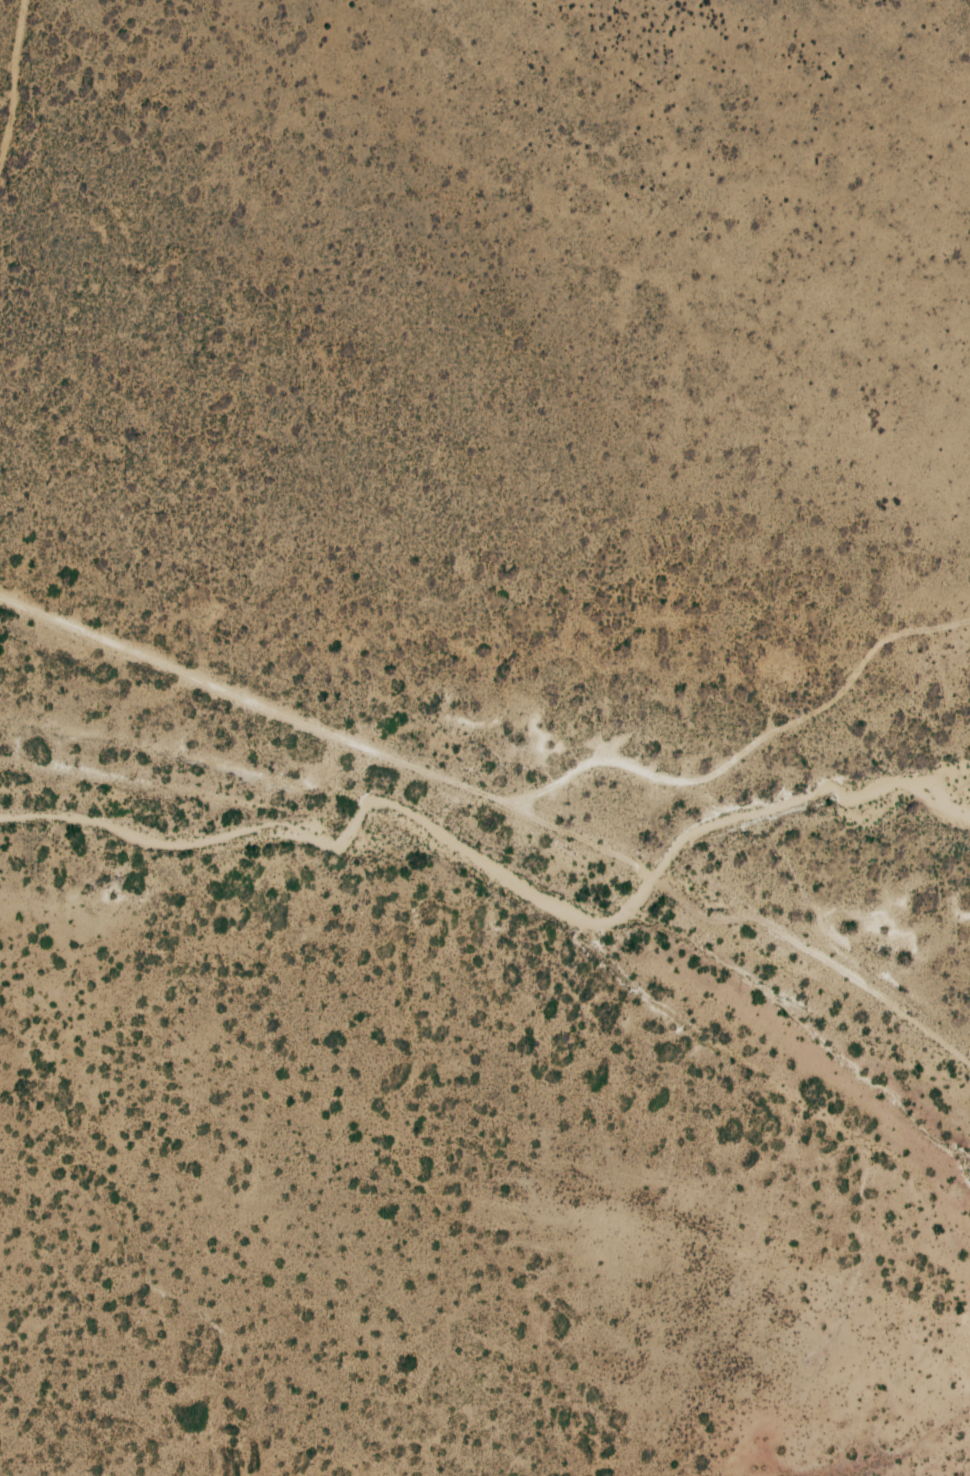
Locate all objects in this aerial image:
road: (17, 41)
road: (496, 814)

